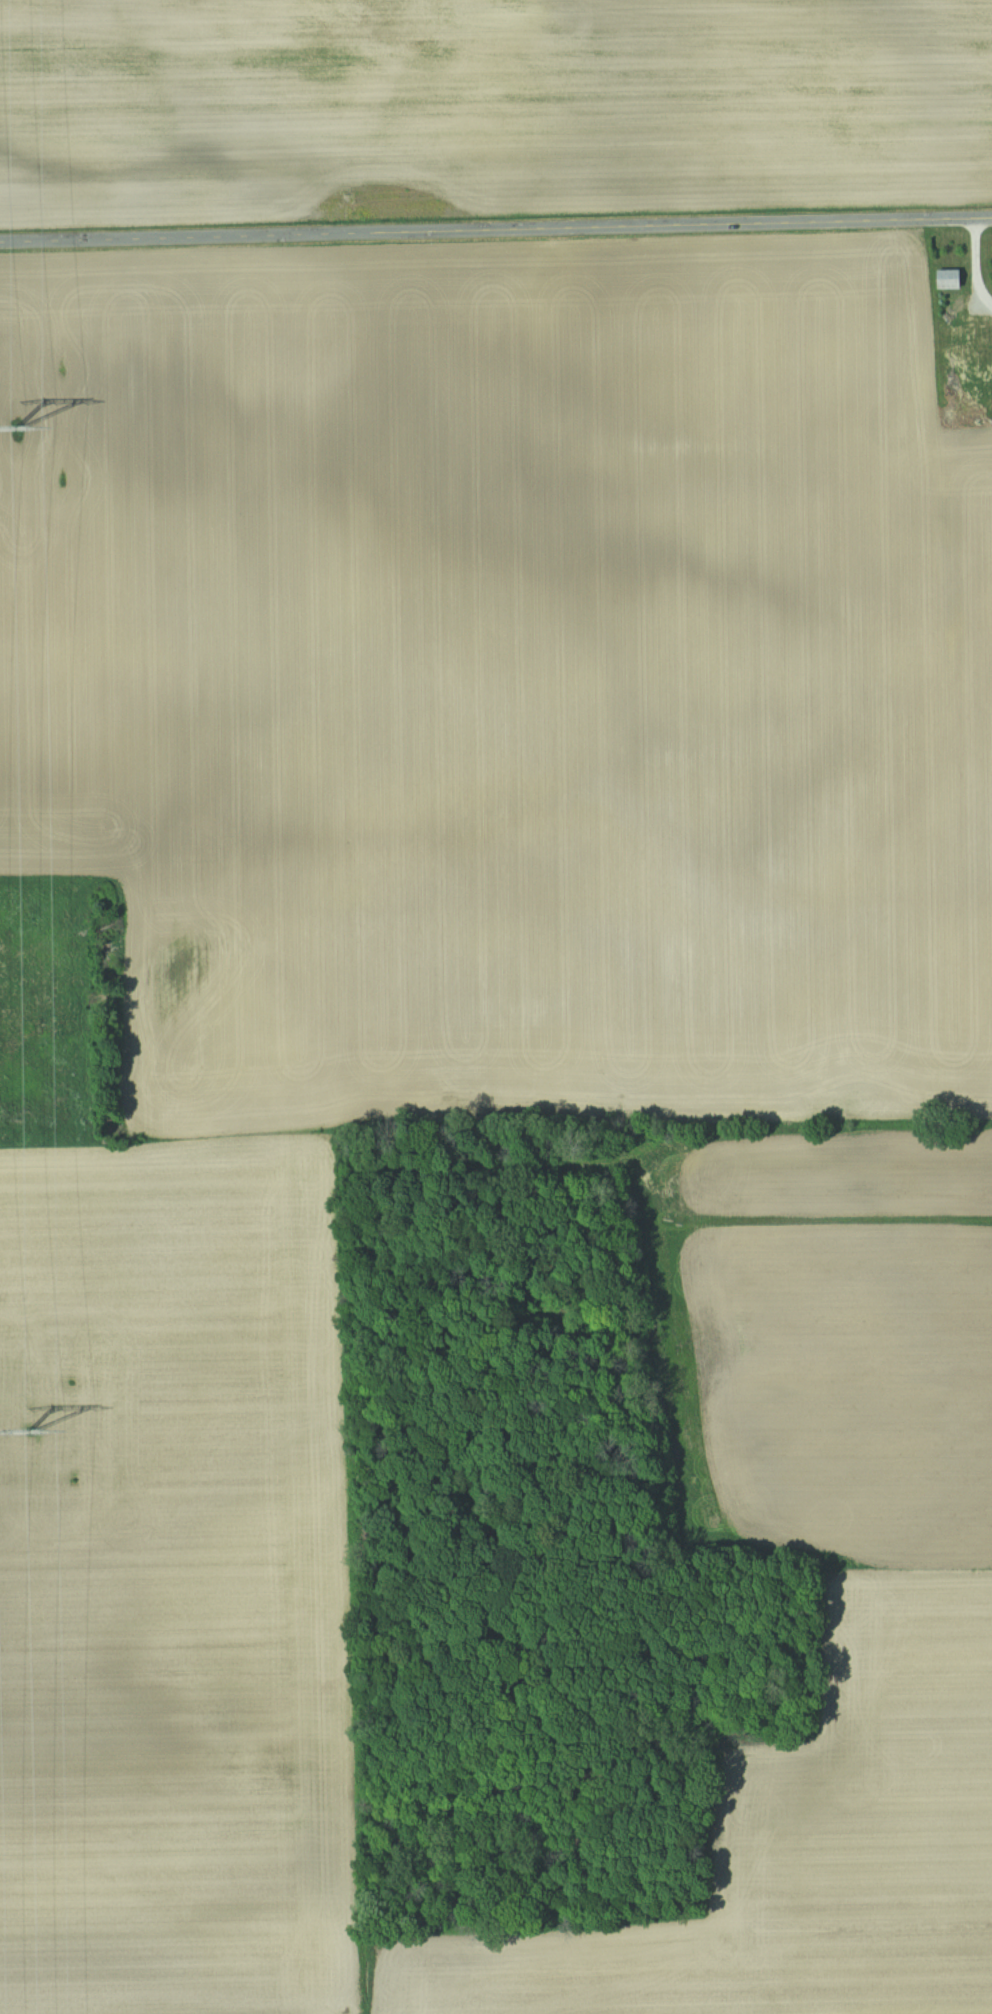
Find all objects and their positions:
road: (495, 229)
road: (977, 265)
building: (952, 279)
building: (973, 337)
power tower: (17, 426)
power tower: (29, 1430)

